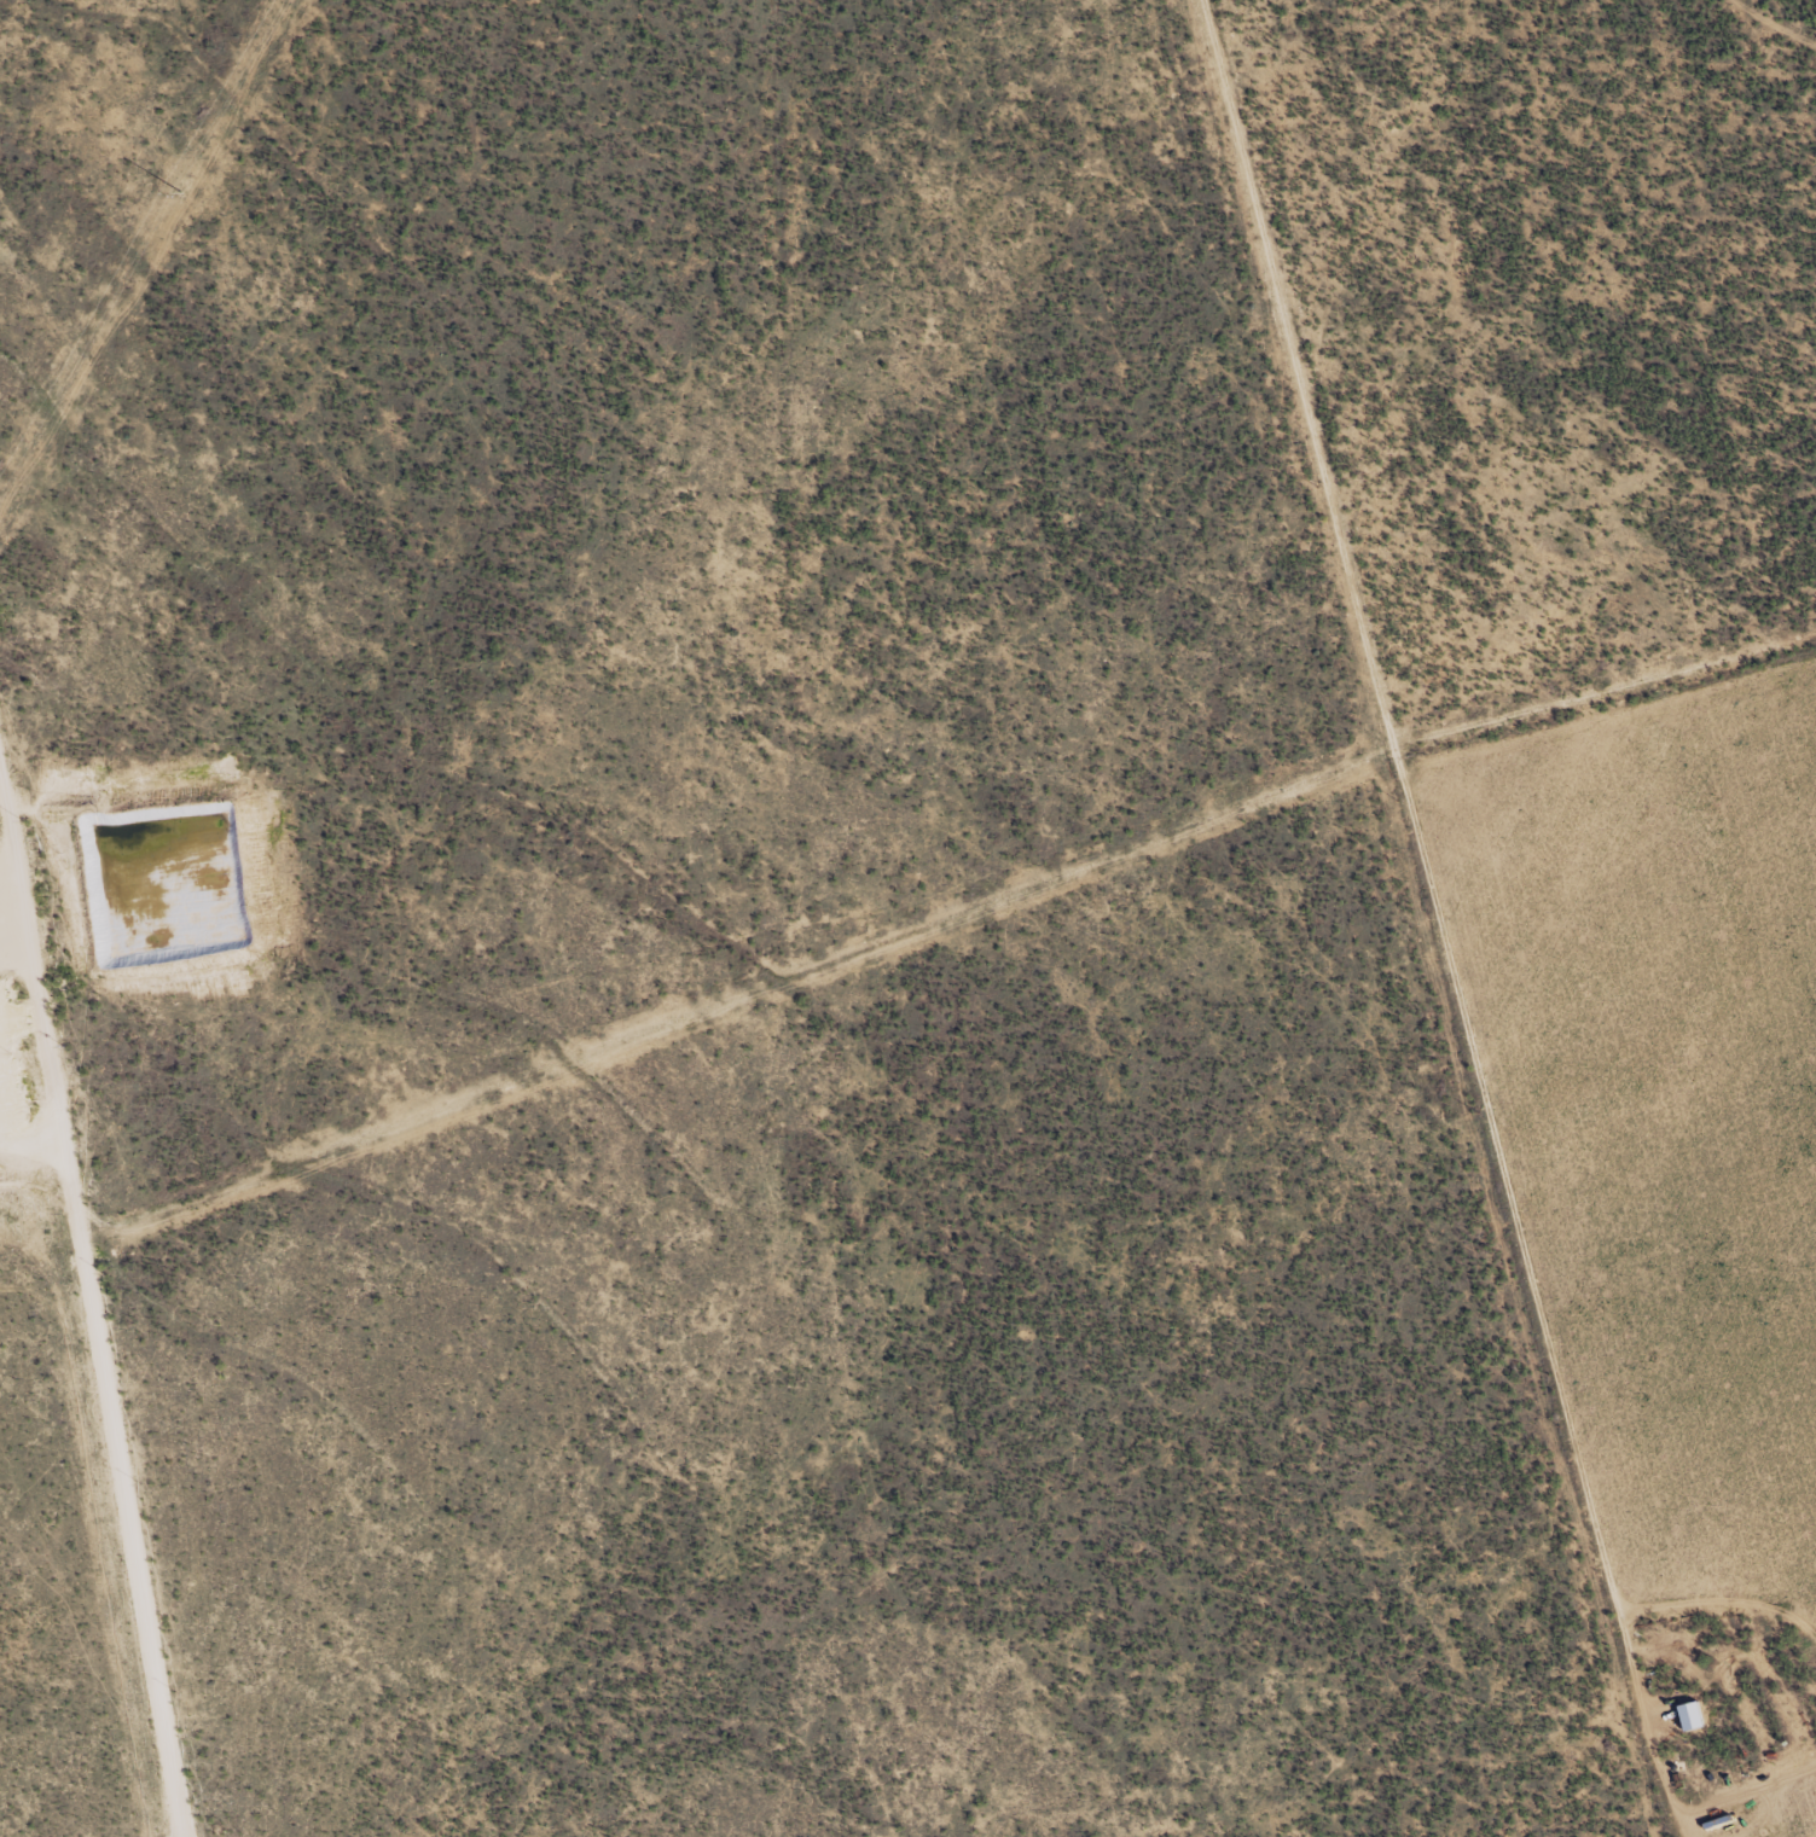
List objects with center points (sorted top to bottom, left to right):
power tower: (180, 192)
road: (1289, 370)
road: (1607, 674)
road: (99, 1300)

